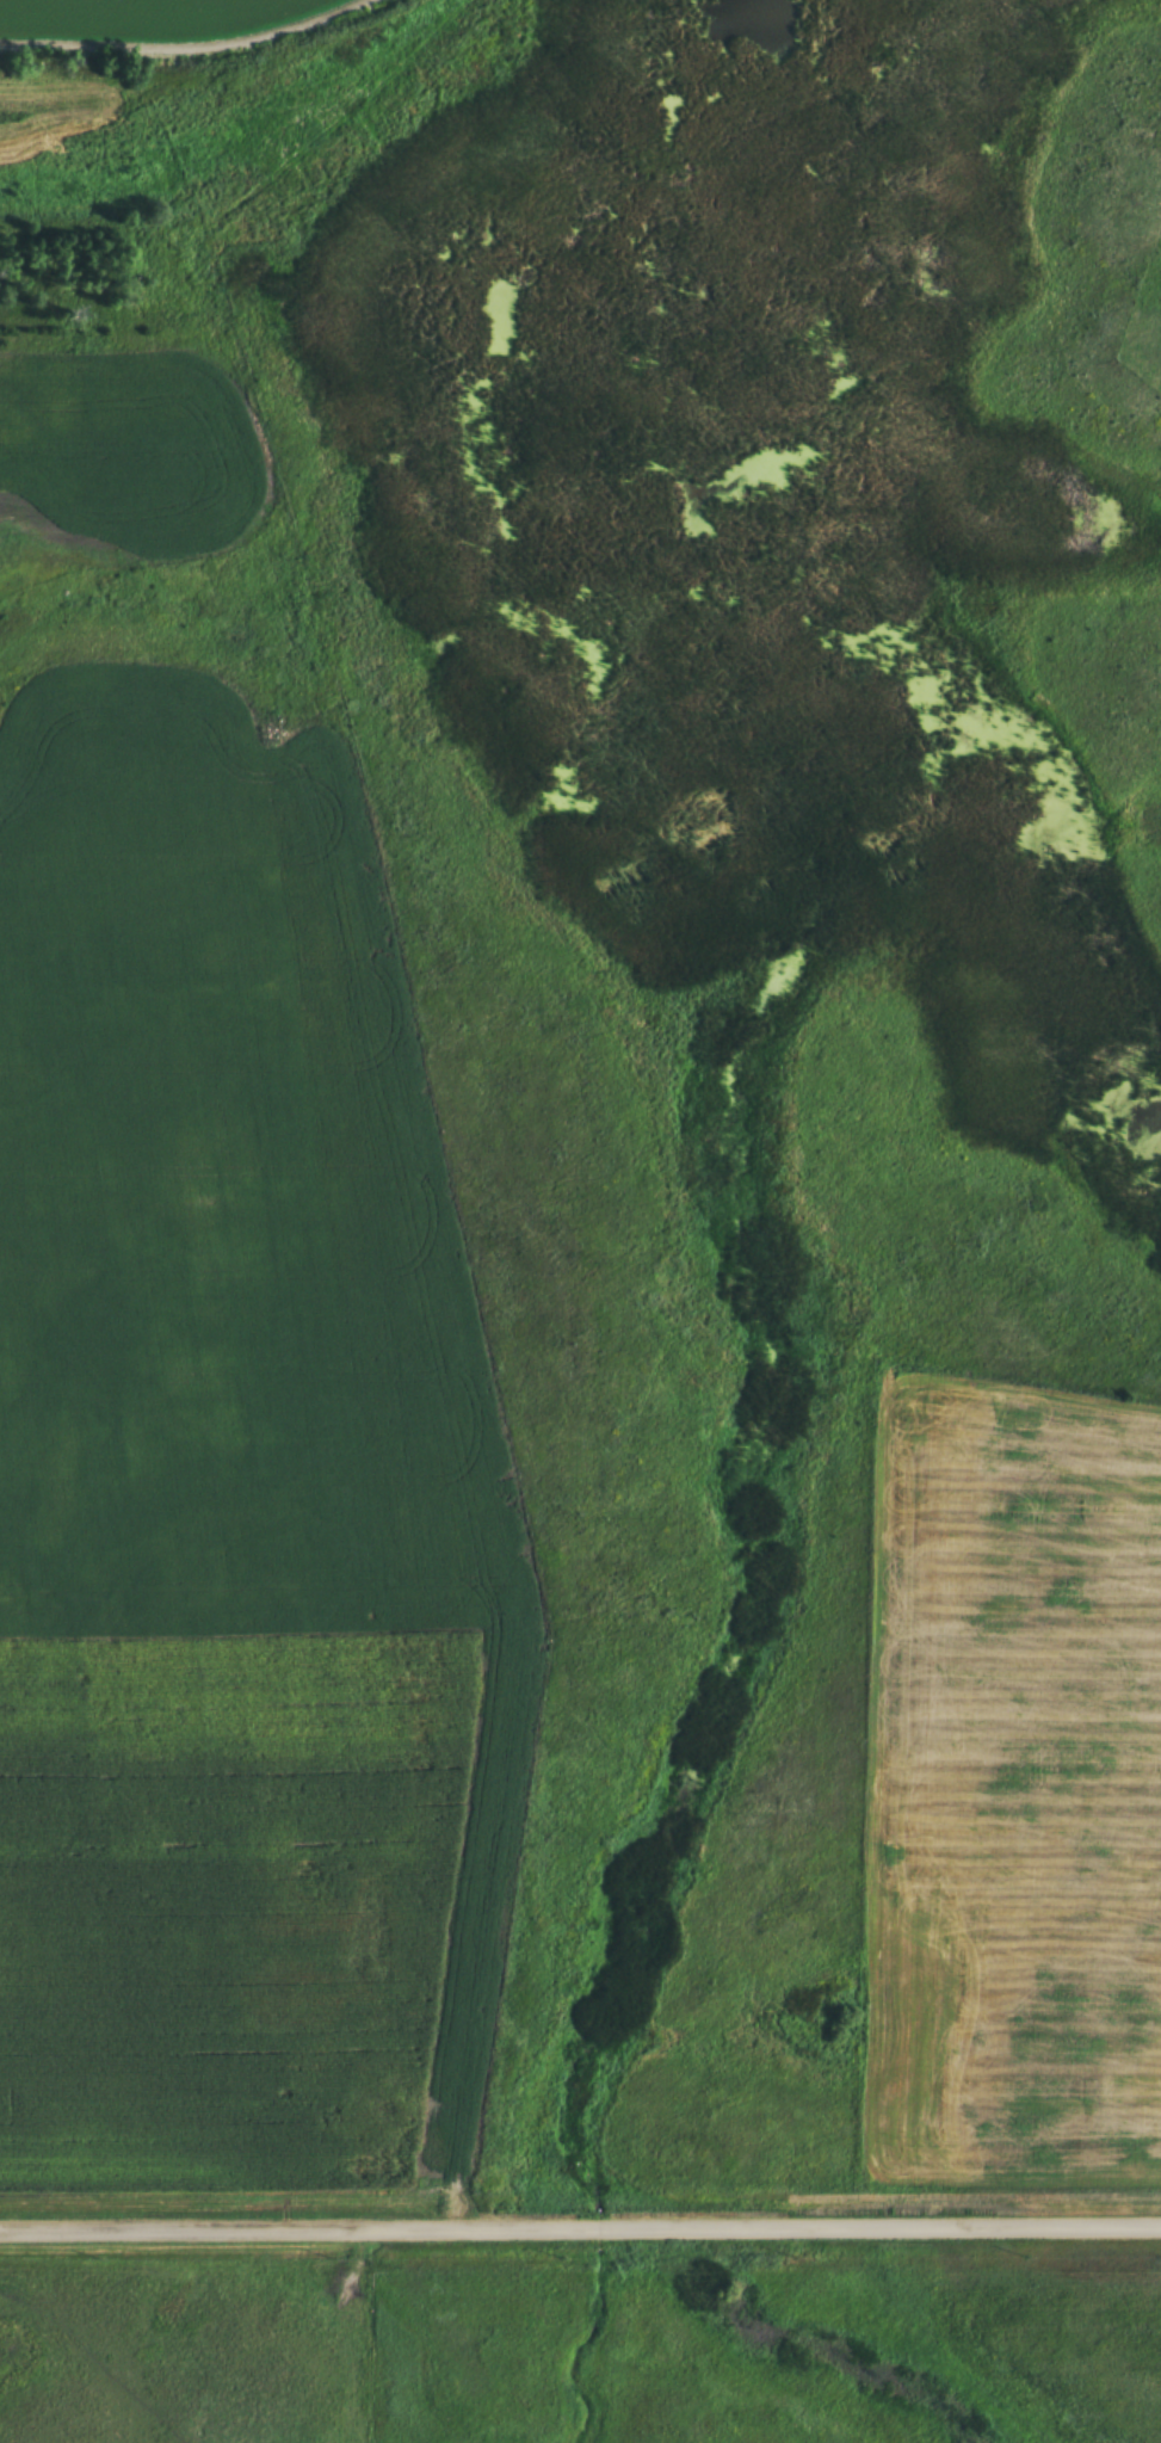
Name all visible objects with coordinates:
road: (580, 2223)

